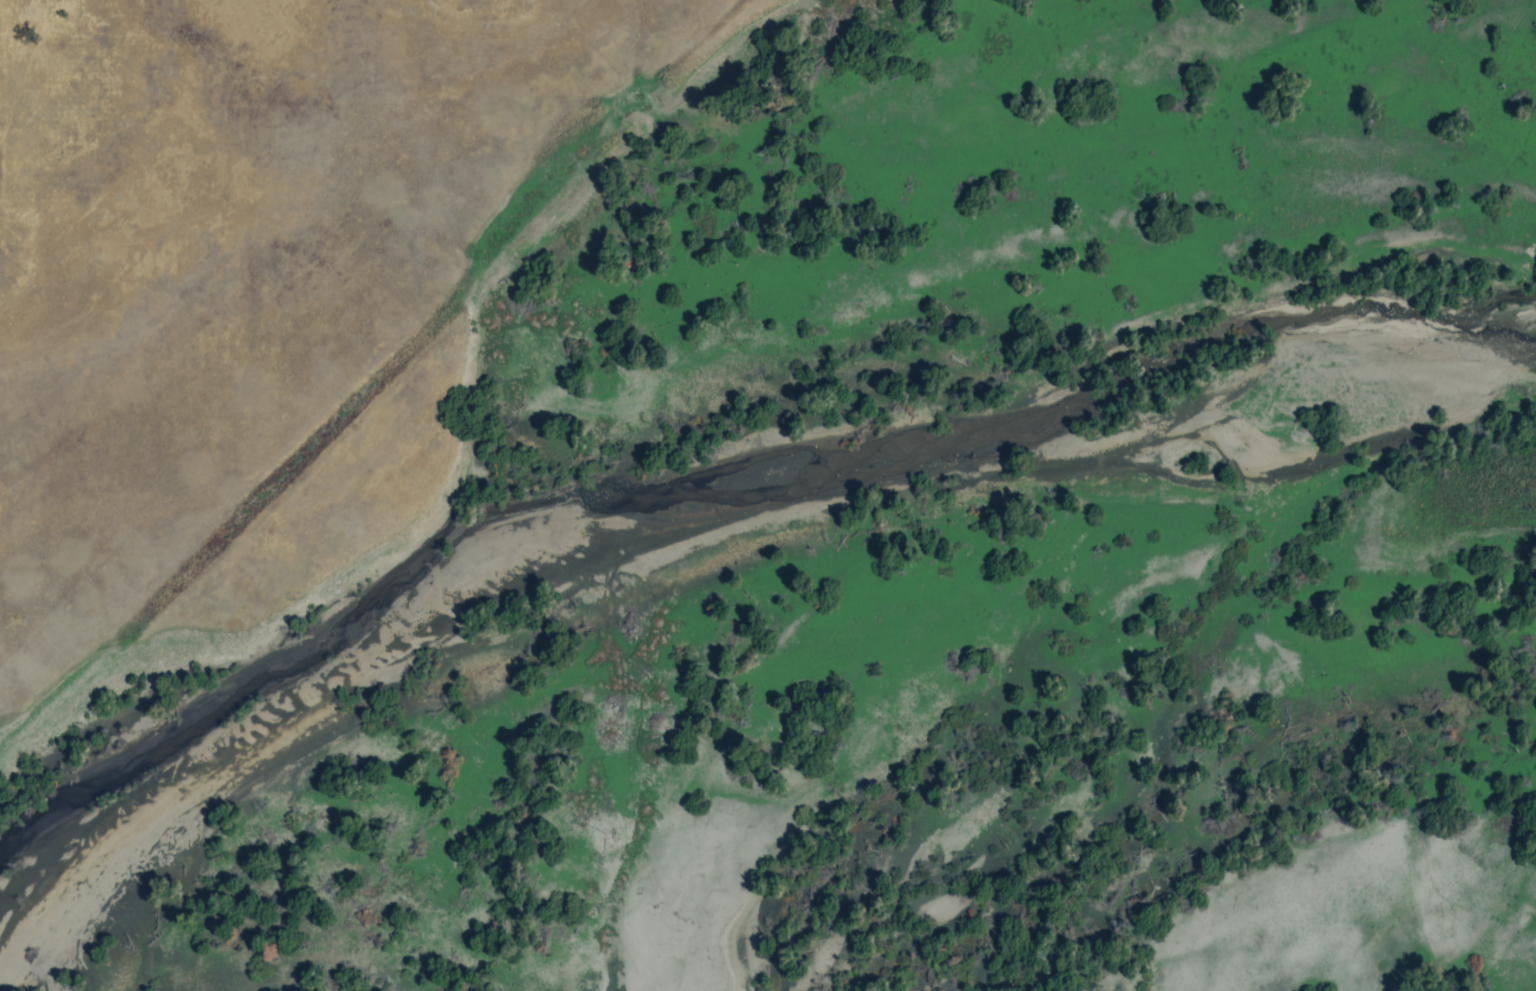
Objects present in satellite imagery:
river: (734, 491)

